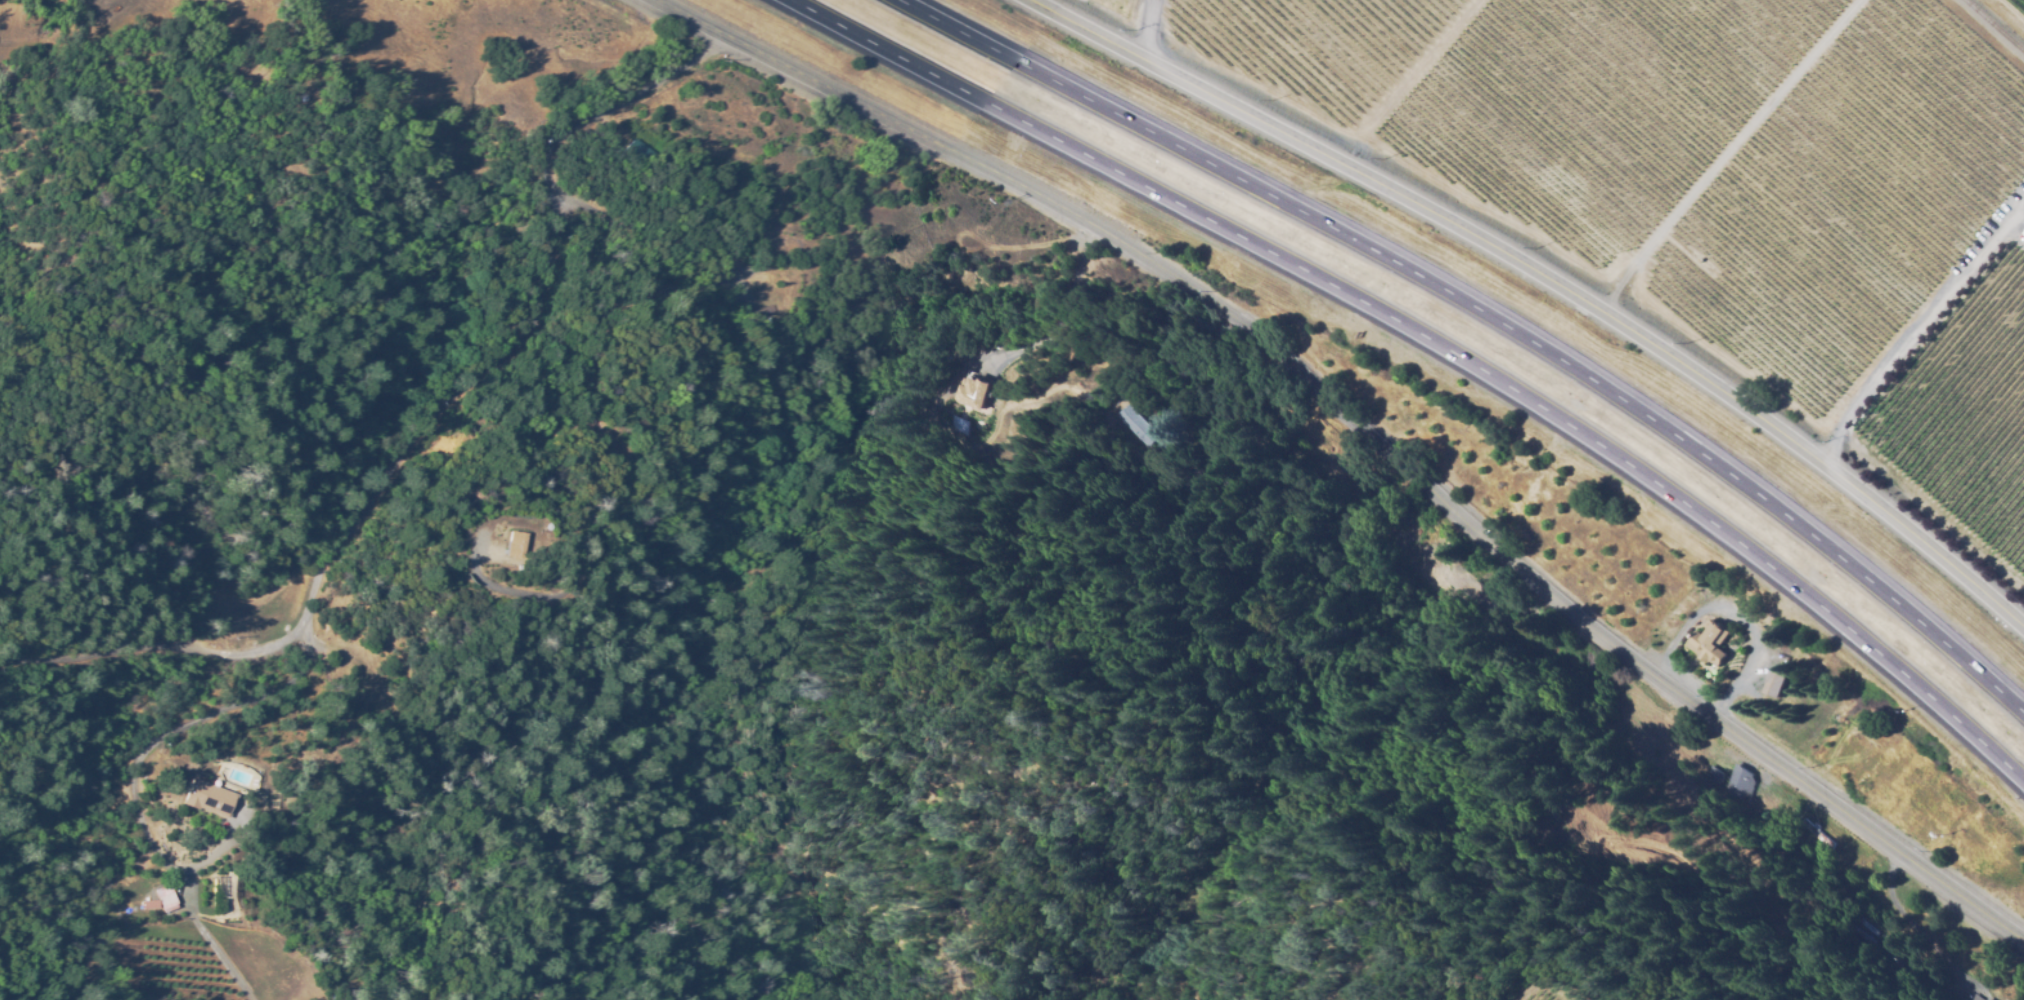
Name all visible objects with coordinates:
railway: (1996, 23)
building: (642, 158)
road: (1548, 279)
building: (766, 298)
road: (1058, 312)
road: (1487, 317)
road: (1915, 326)
road: (1440, 343)
road: (1179, 353)
building: (972, 390)
building: (1275, 425)
building: (1132, 426)
road: (1364, 431)
building: (1176, 494)
building: (504, 542)
building: (1420, 572)
building: (1710, 641)
building: (1776, 683)
building: (1712, 754)
building: (1706, 776)
building: (1731, 786)
building: (205, 799)
building: (1812, 839)
building: (165, 899)
building: (150, 904)
building: (1971, 998)
building: (1985, 999)

